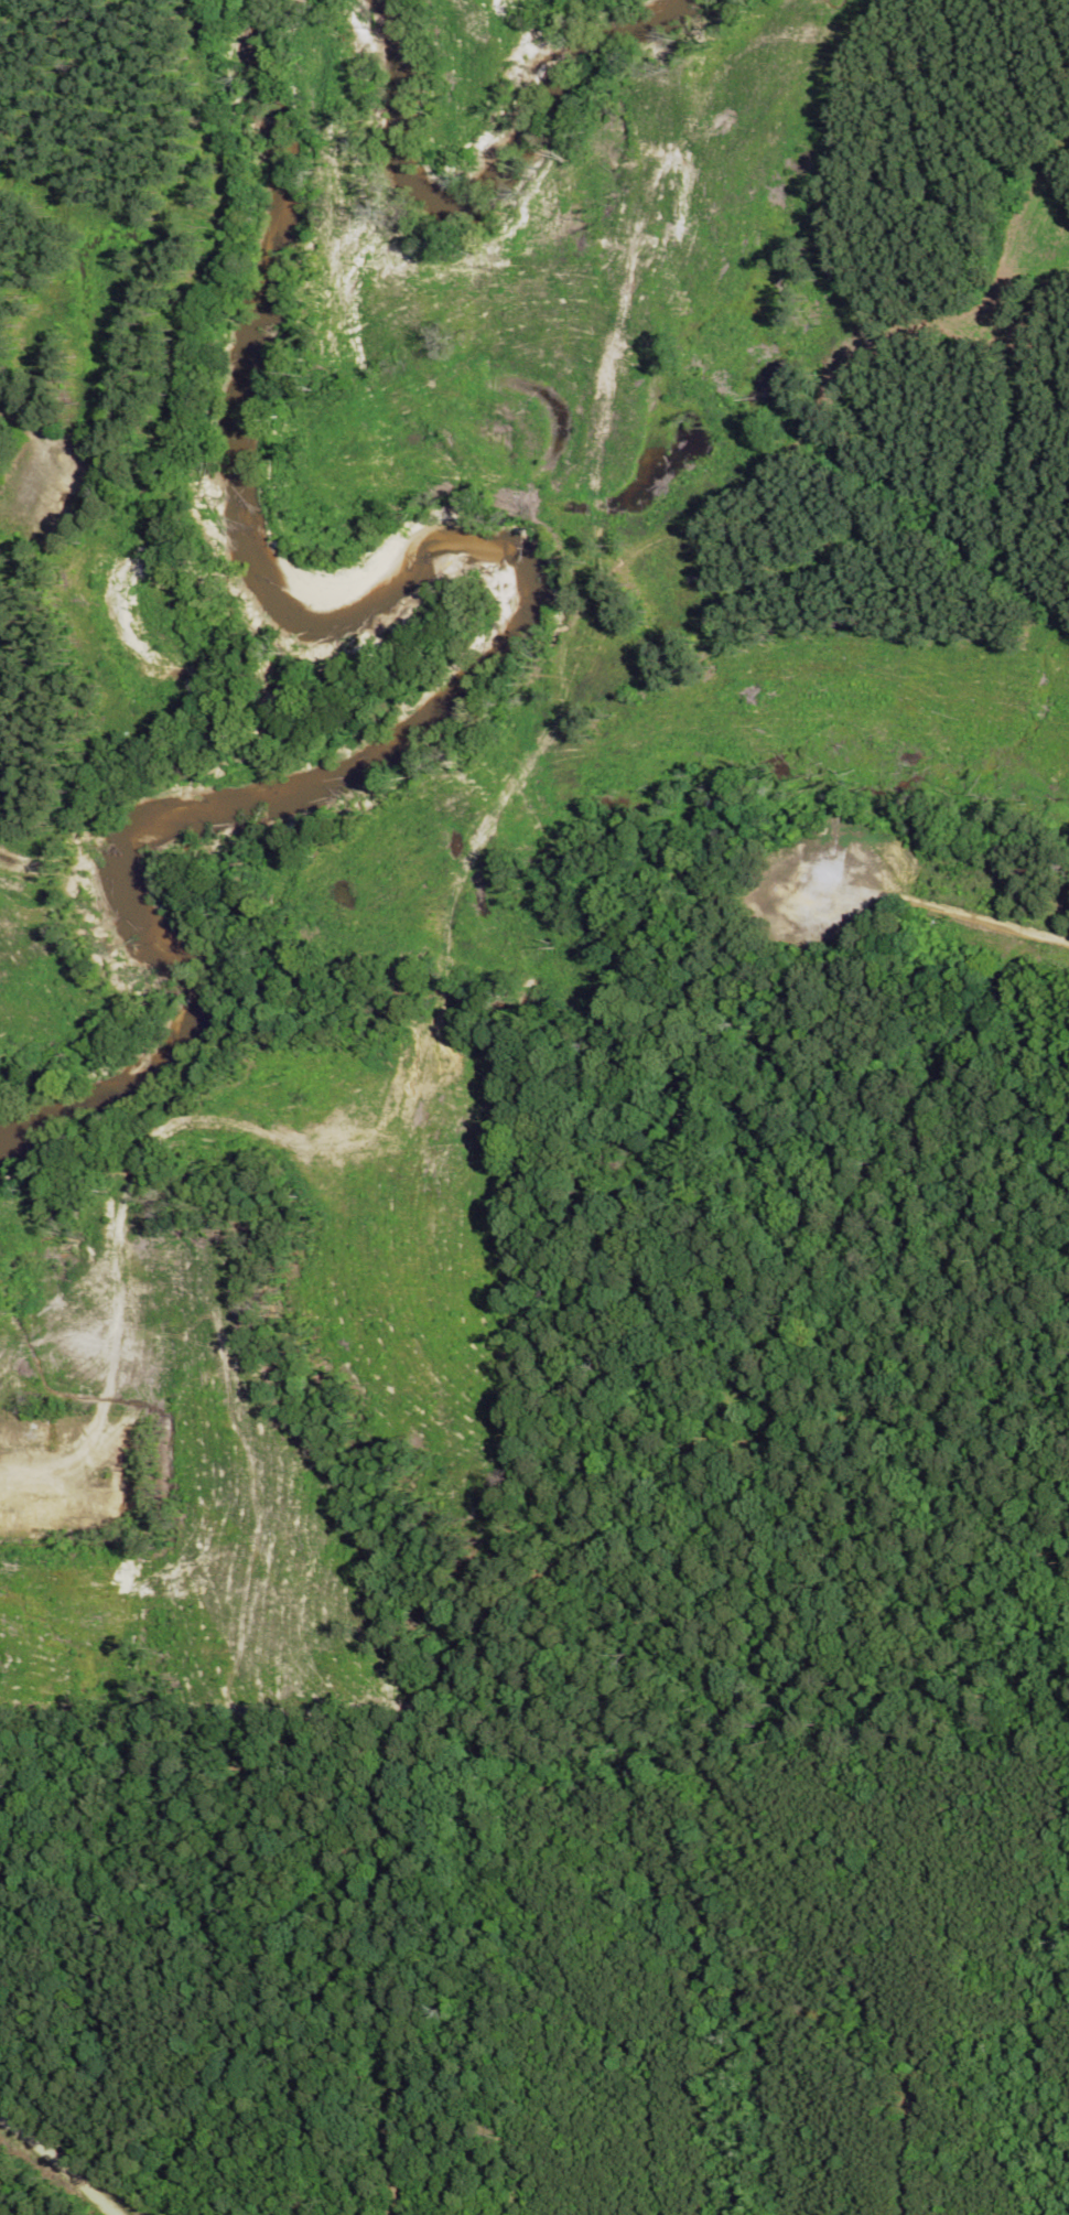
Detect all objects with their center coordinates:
river: (490, 186)
road: (35, 426)
river: (516, 625)
road: (987, 925)
road: (60, 2164)

